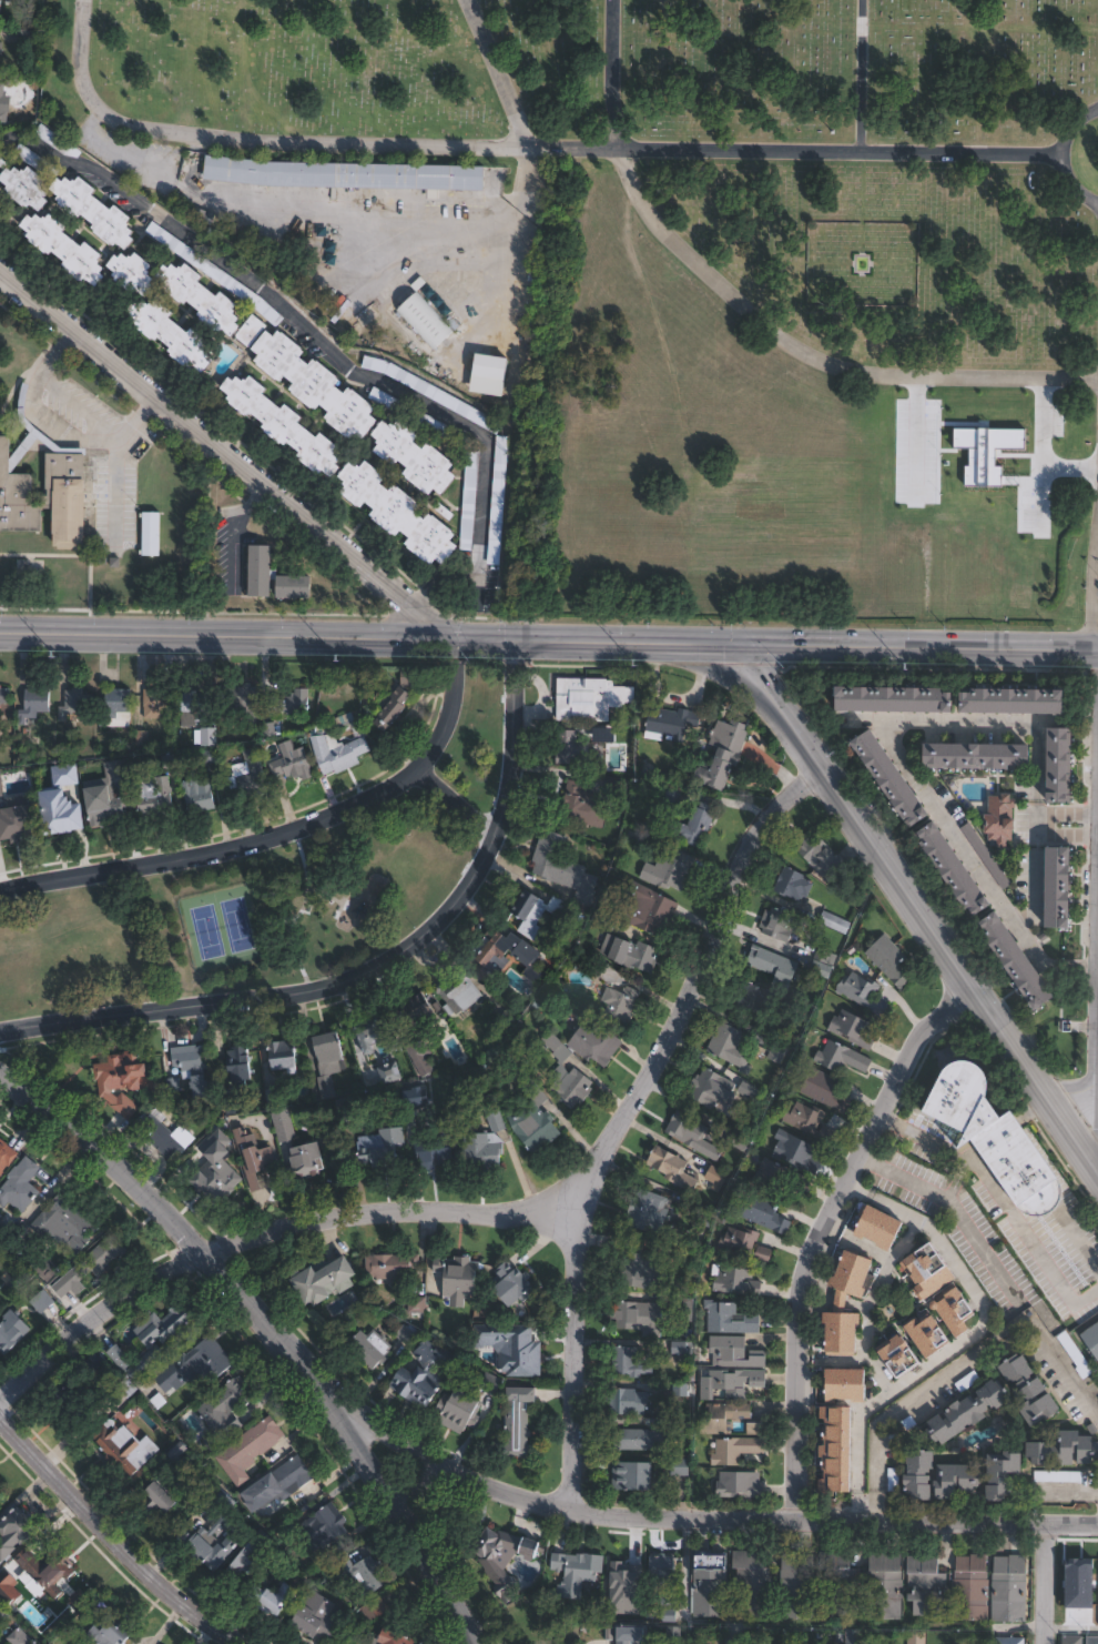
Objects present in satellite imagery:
building: (4, 2)
building: (0, 8)
road: (985, 27)
building: (28, 38)
building: (2, 48)
road: (501, 72)
road: (619, 74)
road: (870, 75)
road: (986, 77)
building: (2, 105)
building: (54, 139)
road: (522, 148)
road: (1063, 158)
building: (38, 161)
building: (345, 174)
building: (26, 186)
road: (520, 195)
building: (94, 211)
building: (204, 216)
building: (65, 246)
building: (200, 261)
park: (674, 264)
building: (132, 272)
building: (200, 297)
building: (270, 312)
building: (425, 321)
building: (252, 331)
building: (171, 333)
road: (57, 340)
road: (322, 346)
road: (814, 357)
building: (490, 360)
building: (315, 384)
building: (434, 393)
building: (380, 396)
road: (143, 411)
building: (283, 423)
road: (53, 428)
building: (447, 432)
road: (231, 455)
building: (414, 456)
road: (115, 488)
building: (43, 497)
building: (499, 500)
building: (470, 501)
building: (398, 512)
road: (228, 527)
building: (150, 533)
building: (261, 571)
building: (294, 586)
road: (548, 646)
building: (410, 676)
building: (4, 695)
building: (591, 696)
building: (898, 697)
building: (1024, 698)
building: (244, 702)
building: (75, 703)
building: (288, 703)
building: (34, 704)
building: (155, 704)
building: (115, 705)
building: (393, 708)
building: (195, 709)
building: (335, 722)
building: (670, 722)
building: (209, 743)
building: (575, 749)
building: (337, 753)
building: (724, 753)
building: (975, 756)
building: (292, 762)
road: (905, 766)
building: (1064, 767)
building: (252, 770)
building: (895, 777)
building: (619, 788)
building: (153, 794)
building: (200, 794)
building: (102, 804)
road: (457, 805)
building: (584, 805)
building: (58, 817)
building: (11, 819)
road: (1033, 826)
building: (692, 827)
road: (279, 831)
building: (821, 854)
building: (987, 856)
building: (562, 868)
building: (958, 868)
building: (671, 869)
building: (793, 884)
building: (1063, 886)
park: (260, 895)
road: (921, 906)
building: (648, 908)
building: (530, 918)
building: (607, 920)
building: (834, 920)
building: (779, 924)
building: (527, 952)
building: (636, 955)
building: (889, 959)
building: (1021, 960)
building: (592, 964)
building: (774, 965)
building: (821, 969)
road: (375, 972)
building: (460, 991)
building: (864, 994)
building: (750, 997)
building: (619, 1002)
building: (853, 1030)
building: (421, 1031)
building: (594, 1043)
building: (730, 1045)
building: (781, 1047)
building: (329, 1052)
building: (283, 1056)
building: (841, 1057)
building: (192, 1059)
building: (238, 1063)
building: (568, 1076)
building: (124, 1080)
building: (200, 1086)
building: (326, 1086)
building: (531, 1086)
building: (711, 1089)
building: (825, 1090)
building: (344, 1105)
road: (619, 1112)
building: (811, 1121)
building: (282, 1126)
building: (535, 1127)
building: (165, 1134)
building: (693, 1134)
building: (995, 1136)
building: (487, 1140)
building: (739, 1141)
building: (435, 1148)
building: (386, 1149)
building: (796, 1151)
building: (6, 1154)
building: (306, 1161)
building: (257, 1164)
building: (675, 1169)
building: (216, 1170)
building: (719, 1177)
building: (782, 1178)
building: (20, 1186)
road: (1002, 1204)
road: (953, 1209)
building: (699, 1211)
building: (764, 1212)
building: (654, 1213)
building: (0, 1217)
road: (508, 1219)
building: (63, 1226)
road: (827, 1228)
building: (882, 1229)
building: (2, 1232)
building: (745, 1244)
building: (23, 1247)
road: (1079, 1247)
road: (200, 1259)
building: (91, 1267)
building: (392, 1267)
building: (45, 1271)
building: (645, 1273)
building: (928, 1274)
building: (16, 1278)
building: (457, 1278)
building: (519, 1281)
building: (736, 1282)
building: (321, 1283)
building: (40, 1300)
building: (678, 1304)
building: (842, 1304)
building: (958, 1313)
building: (639, 1318)
building: (730, 1319)
road: (272, 1330)
building: (11, 1332)
building: (406, 1335)
building: (932, 1335)
building: (157, 1338)
road: (966, 1338)
building: (1090, 1339)
building: (372, 1347)
building: (517, 1349)
building: (733, 1353)
building: (1077, 1355)
building: (903, 1356)
building: (120, 1358)
building: (632, 1363)
building: (194, 1366)
road: (1064, 1368)
building: (85, 1374)
building: (425, 1375)
building: (965, 1380)
building: (733, 1383)
building: (489, 1384)
building: (847, 1385)
building: (125, 1390)
building: (1031, 1392)
road: (917, 1395)
building: (630, 1402)
building: (65, 1403)
building: (460, 1411)
building: (970, 1414)
building: (221, 1415)
building: (519, 1423)
building: (713, 1426)
building: (651, 1435)
building: (103, 1438)
building: (261, 1439)
building: (738, 1451)
building: (840, 1452)
building: (1038, 1461)
building: (681, 1469)
building: (1056, 1475)
building: (922, 1476)
building: (633, 1477)
building: (238, 1480)
building: (959, 1482)
building: (0, 1485)
building: (278, 1485)
building: (740, 1485)
building: (0, 1494)
building: (161, 1499)
road: (704, 1511)
building: (324, 1527)
building: (14, 1533)
road: (113, 1537)
building: (207, 1547)
building: (247, 1556)
building: (624, 1565)
building: (43, 1570)
building: (363, 1572)
building: (575, 1572)
building: (499, 1573)
building: (662, 1581)
road: (1046, 1581)
building: (799, 1584)
building: (924, 1584)
building: (753, 1585)
building: (840, 1585)
building: (885, 1586)
building: (710, 1587)
building: (972, 1588)
building: (1009, 1588)
building: (277, 1595)
building: (630, 1606)
building: (374, 1608)
building: (3, 1614)
building: (318, 1616)
road: (1071, 1628)
building: (111, 1631)
building: (639, 1633)
building: (18, 1636)
building: (396, 1636)
building: (851, 1636)
building: (919, 1636)
building: (1069, 1638)
building: (1090, 1640)
building: (1011, 1641)
building: (549, 1643)
building: (550, 1643)

